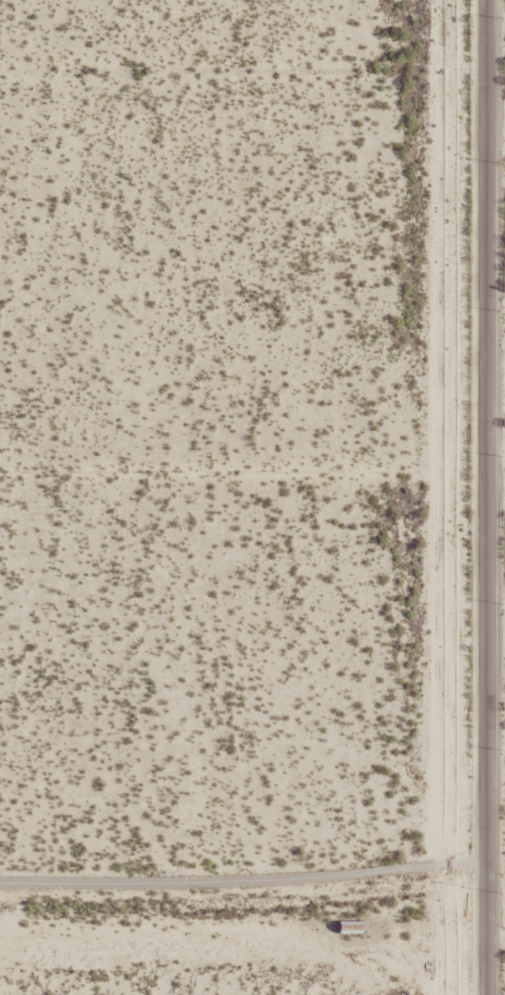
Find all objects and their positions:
road: (473, 497)
road: (252, 904)

